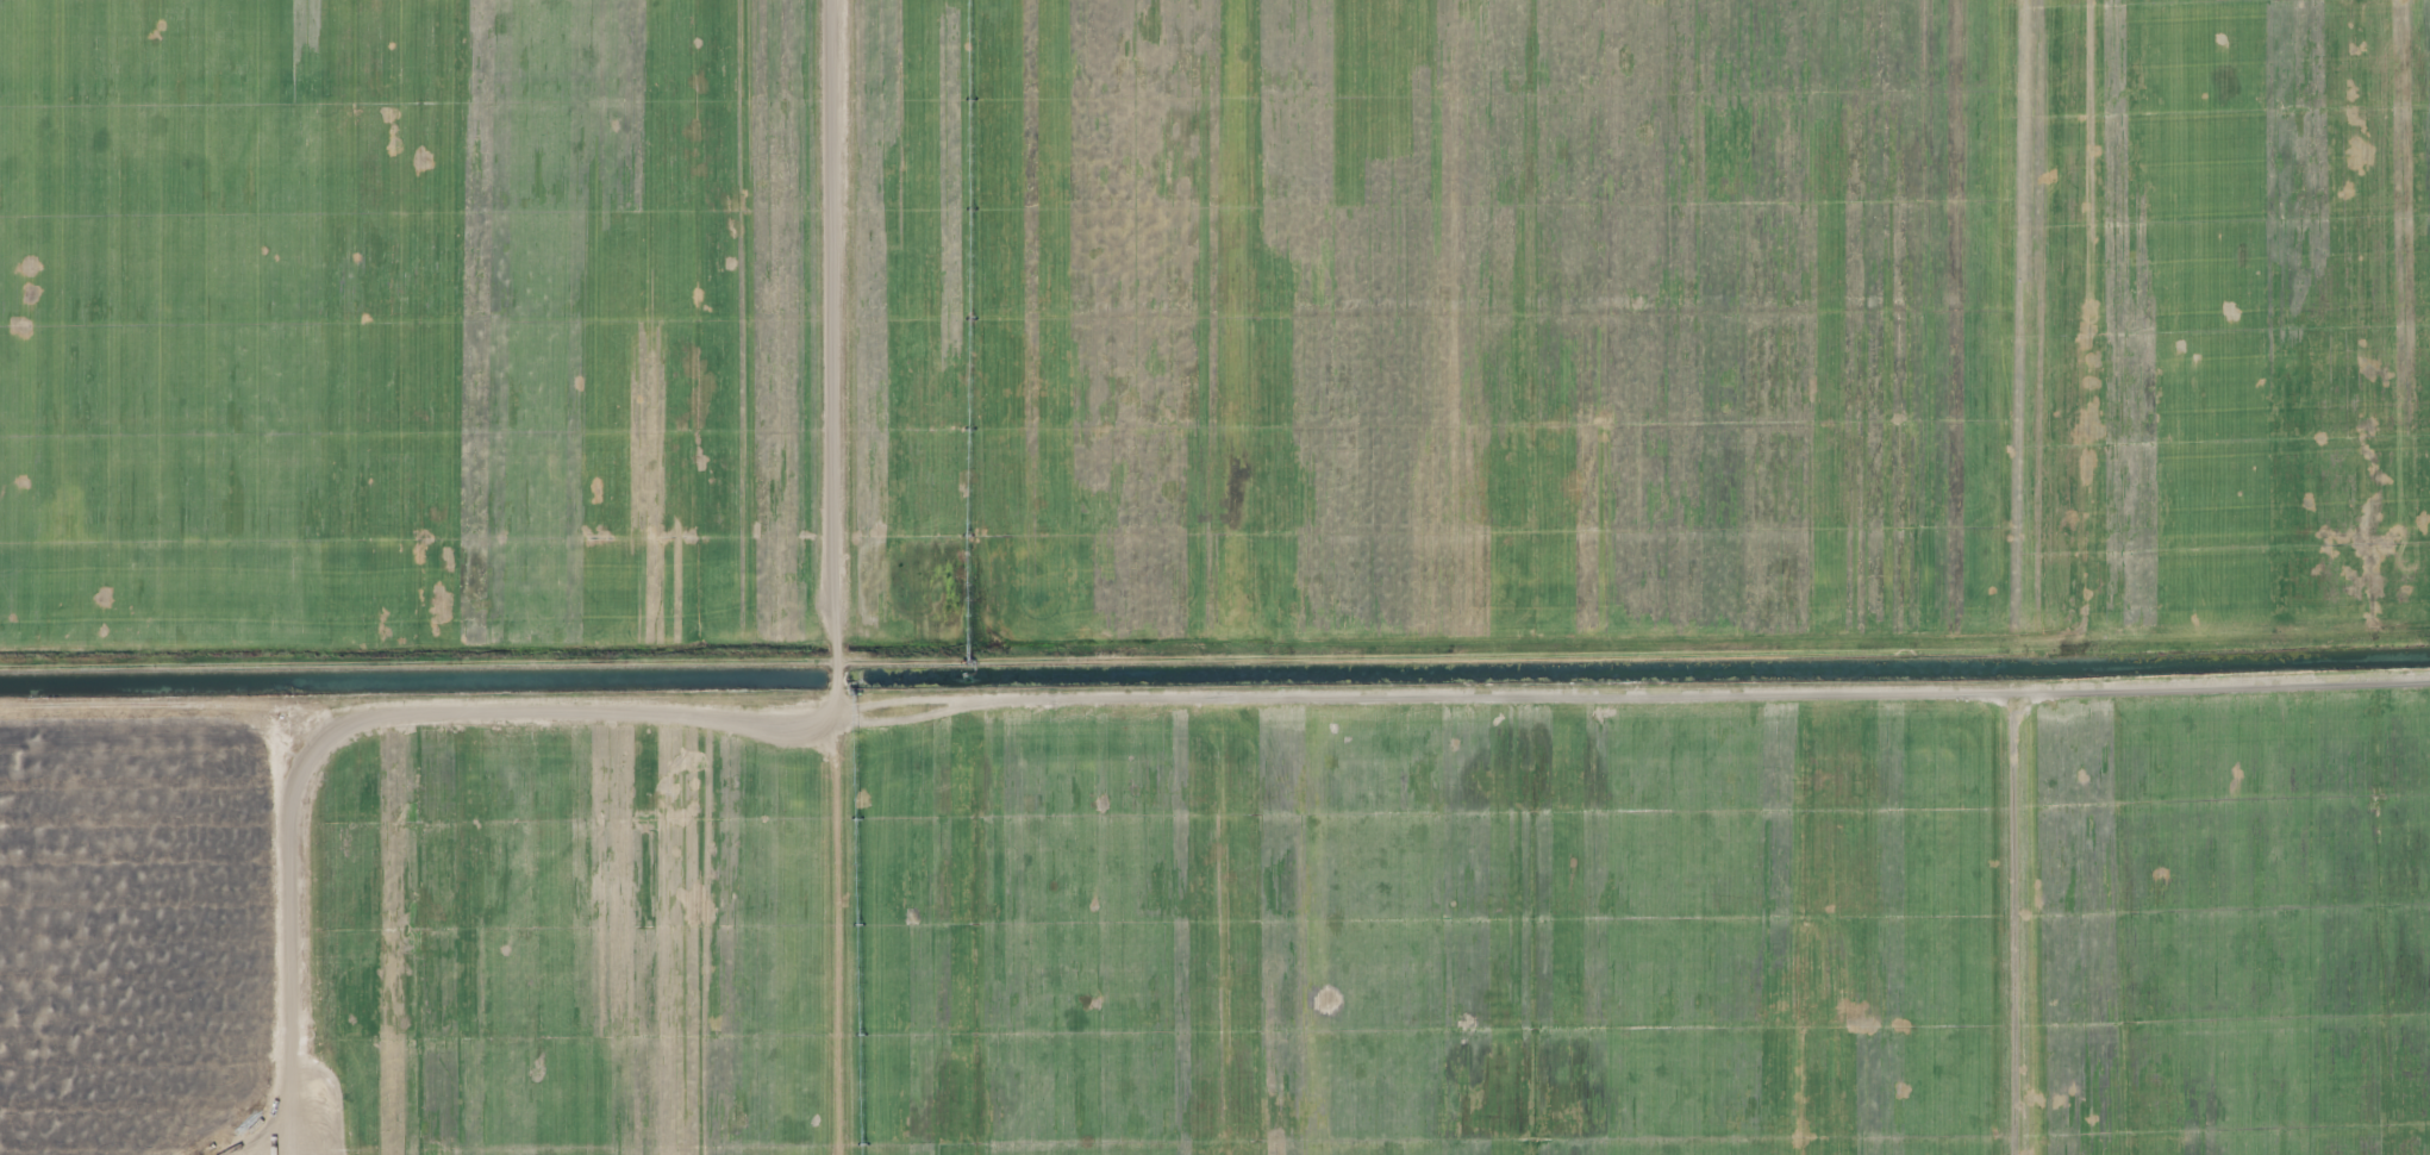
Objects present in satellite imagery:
road: (825, 358)
road: (1145, 706)

